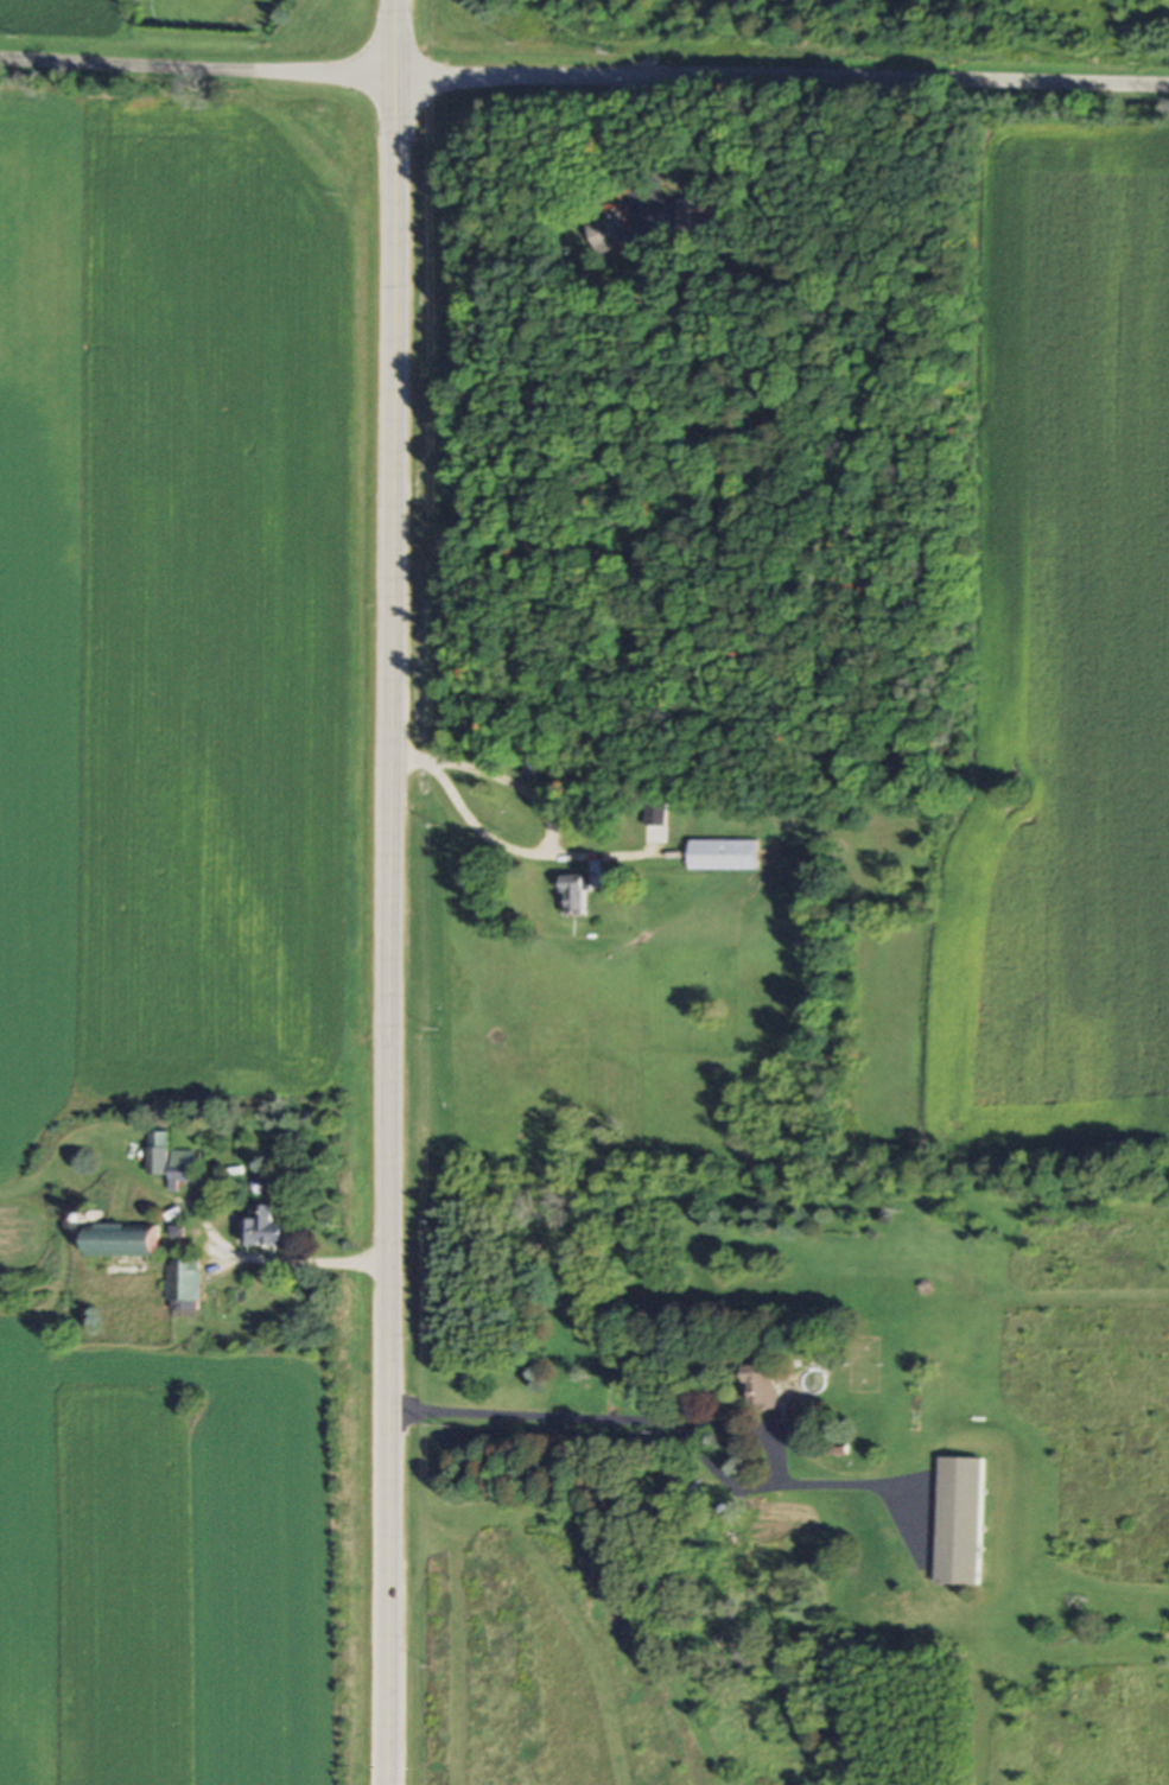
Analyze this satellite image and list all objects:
road: (584, 77)
road: (648, 145)
building: (699, 215)
building: (610, 234)
road: (516, 786)
road: (501, 845)
building: (723, 856)
road: (392, 891)
building: (574, 896)
building: (157, 1154)
building: (182, 1167)
building: (266, 1230)
building: (122, 1241)
road: (300, 1262)
building: (182, 1285)
building: (764, 1389)
road: (667, 1422)
road: (871, 1485)
building: (960, 1523)
building: (777, 1545)

